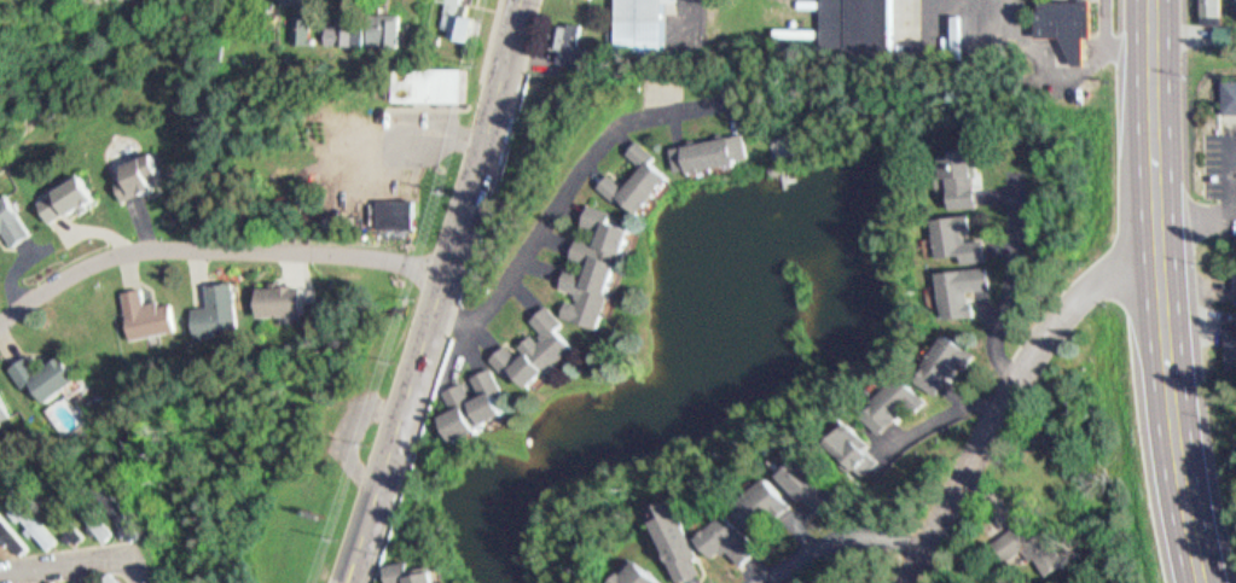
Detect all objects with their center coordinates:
building: (292, 1)
building: (1214, 11)
building: (462, 18)
building: (1073, 23)
building: (646, 24)
building: (861, 25)
building: (303, 27)
building: (352, 28)
building: (391, 28)
building: (1226, 34)
building: (576, 45)
road: (487, 46)
building: (434, 81)
building: (1232, 97)
building: (700, 147)
building: (128, 167)
building: (958, 170)
building: (633, 171)
building: (143, 176)
building: (970, 180)
road: (570, 187)
building: (57, 191)
building: (70, 198)
building: (401, 211)
building: (8, 217)
building: (953, 237)
road: (216, 249)
building: (590, 258)
building: (957, 281)
road: (1010, 281)
building: (970, 290)
road: (445, 293)
road: (460, 293)
road: (1161, 293)
building: (290, 296)
building: (214, 301)
building: (144, 307)
building: (532, 339)
building: (1234, 345)
building: (938, 351)
building: (43, 366)
building: (884, 395)
road: (1006, 395)
building: (466, 396)
building: (4, 402)
road: (938, 414)
road: (346, 430)
building: (843, 441)
building: (859, 448)
building: (806, 476)
building: (759, 495)
building: (116, 506)
building: (89, 512)
building: (28, 514)
building: (60, 515)
building: (129, 517)
building: (8, 529)
building: (674, 531)
building: (725, 531)
road: (837, 542)
building: (1020, 544)
building: (1039, 547)
road: (81, 561)
building: (407, 570)
building: (638, 571)
building: (108, 576)
building: (76, 577)
building: (46, 578)
building: (17, 581)
building: (85, 581)

